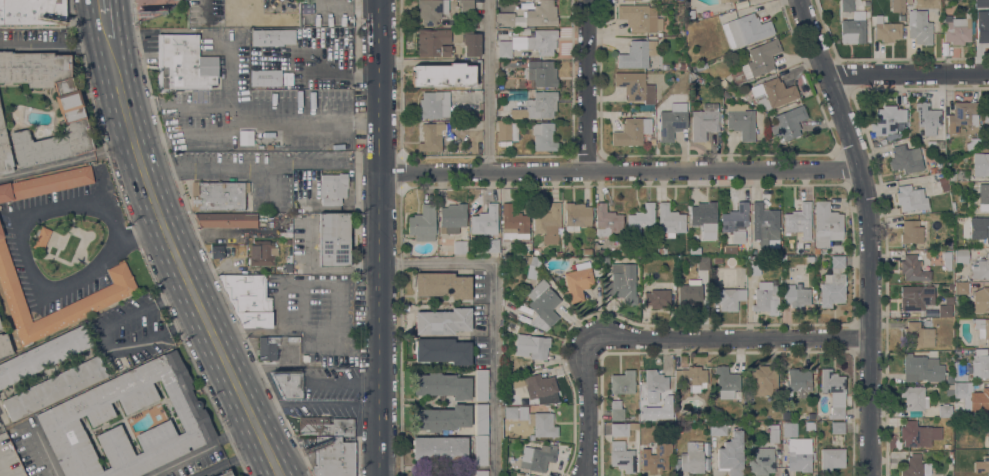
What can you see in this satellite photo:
building: (631, 0)
building: (727, 1)
building: (908, 2)
building: (980, 3)
building: (466, 6)
building: (898, 6)
road: (205, 9)
building: (431, 10)
building: (32, 12)
building: (259, 14)
building: (529, 16)
building: (640, 18)
building: (852, 24)
building: (923, 25)
building: (746, 30)
building: (957, 31)
building: (888, 32)
building: (983, 33)
building: (273, 37)
building: (518, 42)
building: (542, 42)
building: (433, 43)
building: (471, 43)
road: (61, 46)
building: (504, 49)
building: (637, 54)
building: (758, 61)
building: (183, 64)
building: (542, 73)
road: (908, 74)
building: (443, 75)
building: (691, 77)
building: (265, 78)
building: (529, 83)
building: (723, 83)
road: (489, 86)
building: (500, 86)
road: (586, 86)
building: (635, 87)
building: (772, 93)
road: (181, 105)
building: (432, 106)
building: (537, 106)
building: (69, 110)
building: (986, 110)
building: (961, 115)
building: (928, 118)
road: (314, 119)
building: (672, 120)
building: (887, 120)
building: (704, 121)
building: (741, 121)
building: (788, 122)
building: (453, 129)
building: (507, 130)
building: (631, 132)
road: (194, 136)
building: (431, 136)
building: (543, 136)
building: (652, 141)
building: (504, 143)
building: (4, 151)
building: (905, 159)
road: (67, 160)
building: (980, 164)
road: (241, 168)
building: (931, 171)
road: (619, 172)
building: (942, 180)
building: (45, 184)
road: (269, 184)
building: (944, 187)
building: (333, 188)
building: (218, 195)
building: (984, 197)
building: (910, 198)
building: (577, 215)
road: (172, 216)
building: (452, 217)
building: (641, 218)
building: (704, 218)
building: (225, 220)
building: (484, 220)
building: (799, 220)
building: (606, 221)
building: (669, 221)
building: (763, 221)
building: (735, 222)
building: (423, 223)
building: (548, 223)
building: (514, 224)
building: (826, 225)
building: (979, 228)
road: (872, 231)
building: (911, 232)
building: (285, 234)
building: (41, 238)
road: (378, 238)
building: (334, 239)
building: (287, 241)
building: (974, 243)
road: (155, 244)
building: (490, 245)
building: (528, 245)
building: (460, 247)
building: (730, 249)
building: (661, 250)
building: (695, 250)
building: (217, 251)
building: (816, 251)
building: (260, 253)
building: (565, 253)
building: (559, 254)
building: (946, 254)
building: (961, 255)
building: (783, 257)
building: (810, 259)
building: (606, 260)
building: (717, 260)
road: (28, 261)
building: (534, 261)
building: (703, 263)
building: (288, 268)
building: (753, 268)
building: (912, 268)
building: (981, 269)
building: (531, 271)
building: (578, 281)
building: (833, 283)
building: (624, 284)
building: (442, 285)
building: (119, 287)
building: (961, 288)
building: (689, 293)
building: (796, 295)
building: (915, 297)
building: (657, 298)
building: (728, 298)
building: (766, 298)
building: (248, 299)
building: (981, 300)
building: (950, 301)
building: (542, 306)
building: (522, 308)
building: (944, 310)
road: (495, 312)
building: (523, 320)
building: (442, 321)
building: (0, 327)
building: (982, 328)
building: (917, 335)
building: (293, 339)
road: (730, 341)
building: (529, 343)
building: (4, 346)
building: (267, 348)
building: (442, 351)
building: (43, 355)
building: (304, 358)
building: (514, 362)
building: (980, 364)
building: (524, 368)
building: (922, 369)
building: (959, 373)
building: (692, 378)
building: (797, 380)
building: (726, 381)
building: (763, 381)
building: (622, 383)
building: (288, 384)
building: (481, 384)
building: (656, 384)
building: (442, 385)
building: (540, 387)
building: (53, 388)
building: (834, 392)
building: (973, 398)
building: (511, 400)
building: (914, 400)
road: (333, 407)
road: (273, 408)
road: (588, 409)
building: (616, 410)
building: (944, 411)
building: (77, 412)
building: (669, 415)
building: (811, 416)
building: (691, 417)
building: (440, 418)
building: (481, 420)
building: (534, 421)
building: (0, 425)
building: (325, 426)
building: (810, 426)
building: (622, 428)
building: (717, 428)
building: (837, 428)
building: (987, 429)
building: (773, 433)
building: (918, 434)
building: (947, 446)
road: (206, 447)
road: (280, 448)
building: (439, 448)
building: (706, 448)
building: (797, 449)
building: (481, 451)
road: (42, 453)
building: (731, 454)
building: (333, 456)
building: (622, 457)
building: (537, 458)
building: (656, 458)
building: (692, 458)
building: (8, 459)
building: (831, 459)
building: (762, 462)
building: (982, 465)
building: (915, 467)
building: (224, 473)
building: (481, 473)
building: (957, 473)

